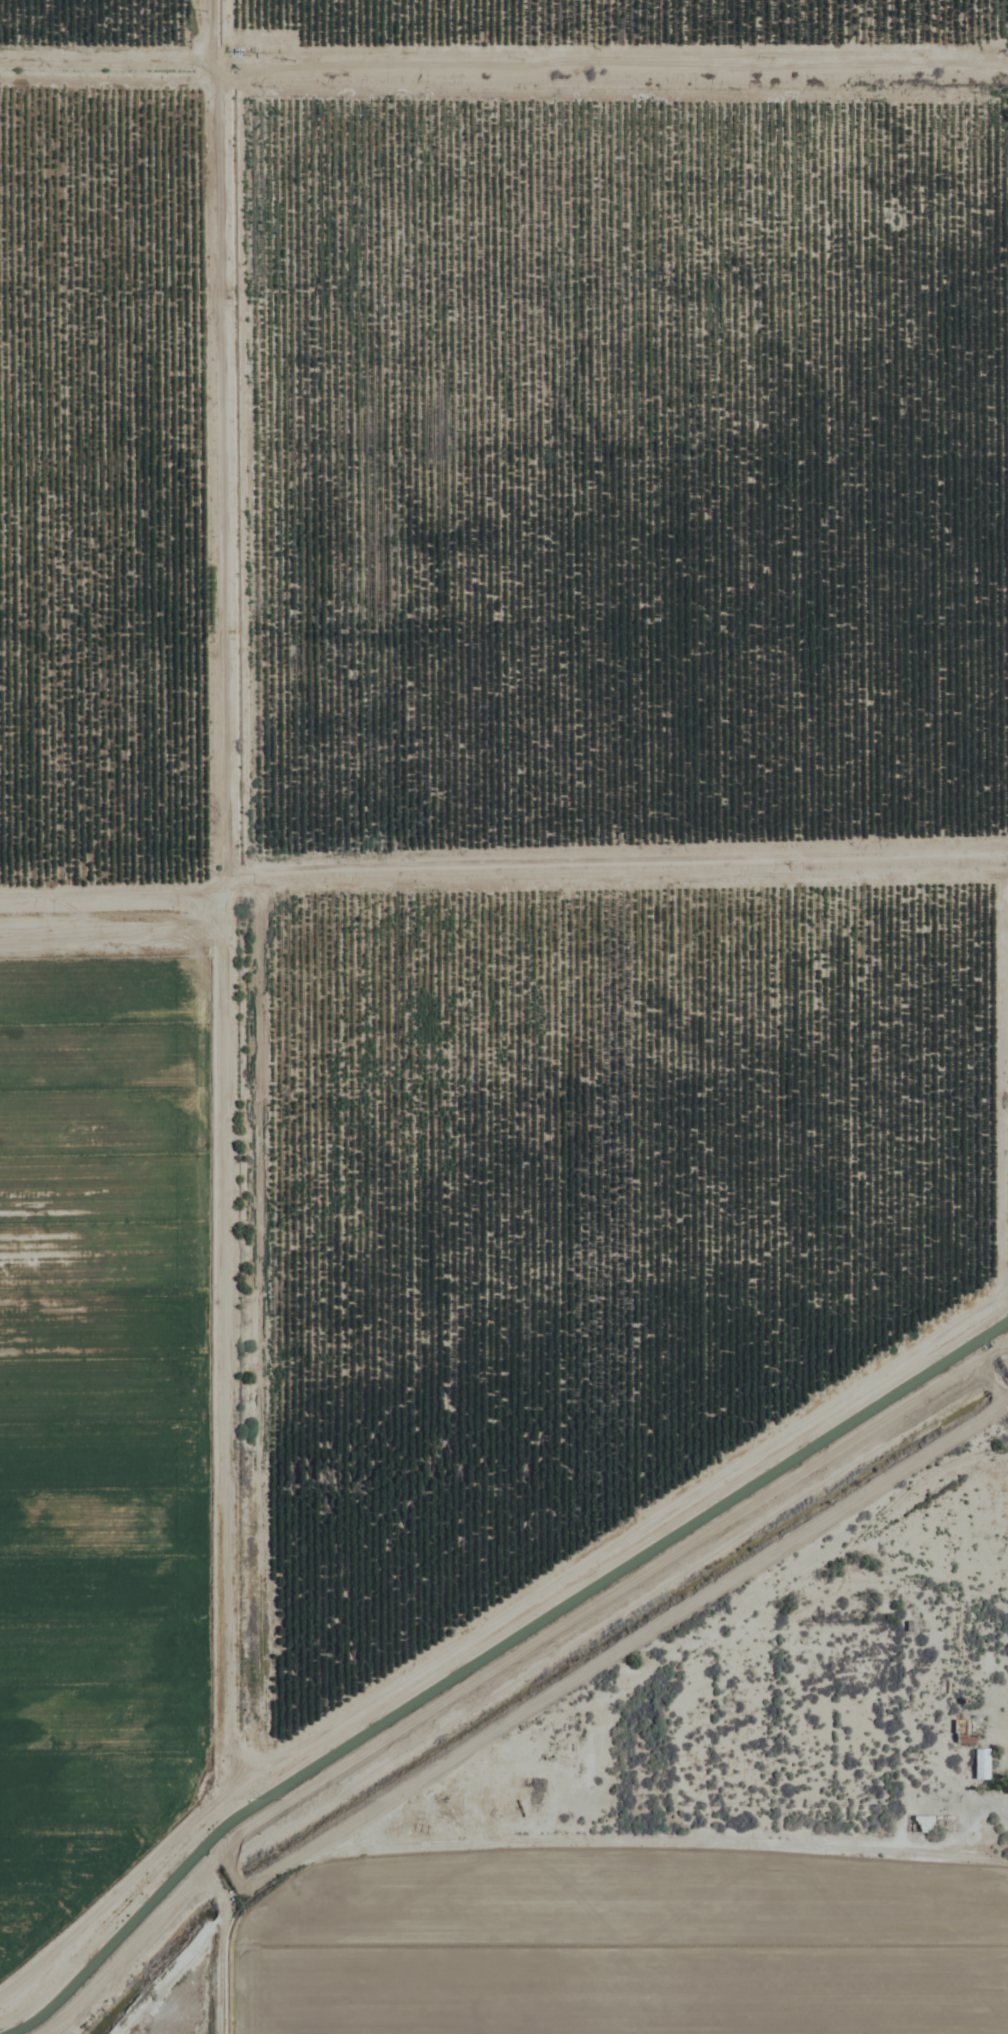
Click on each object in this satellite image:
crop: (504, 1017)
building: (961, 1731)
building: (978, 1764)
road: (1006, 1835)

